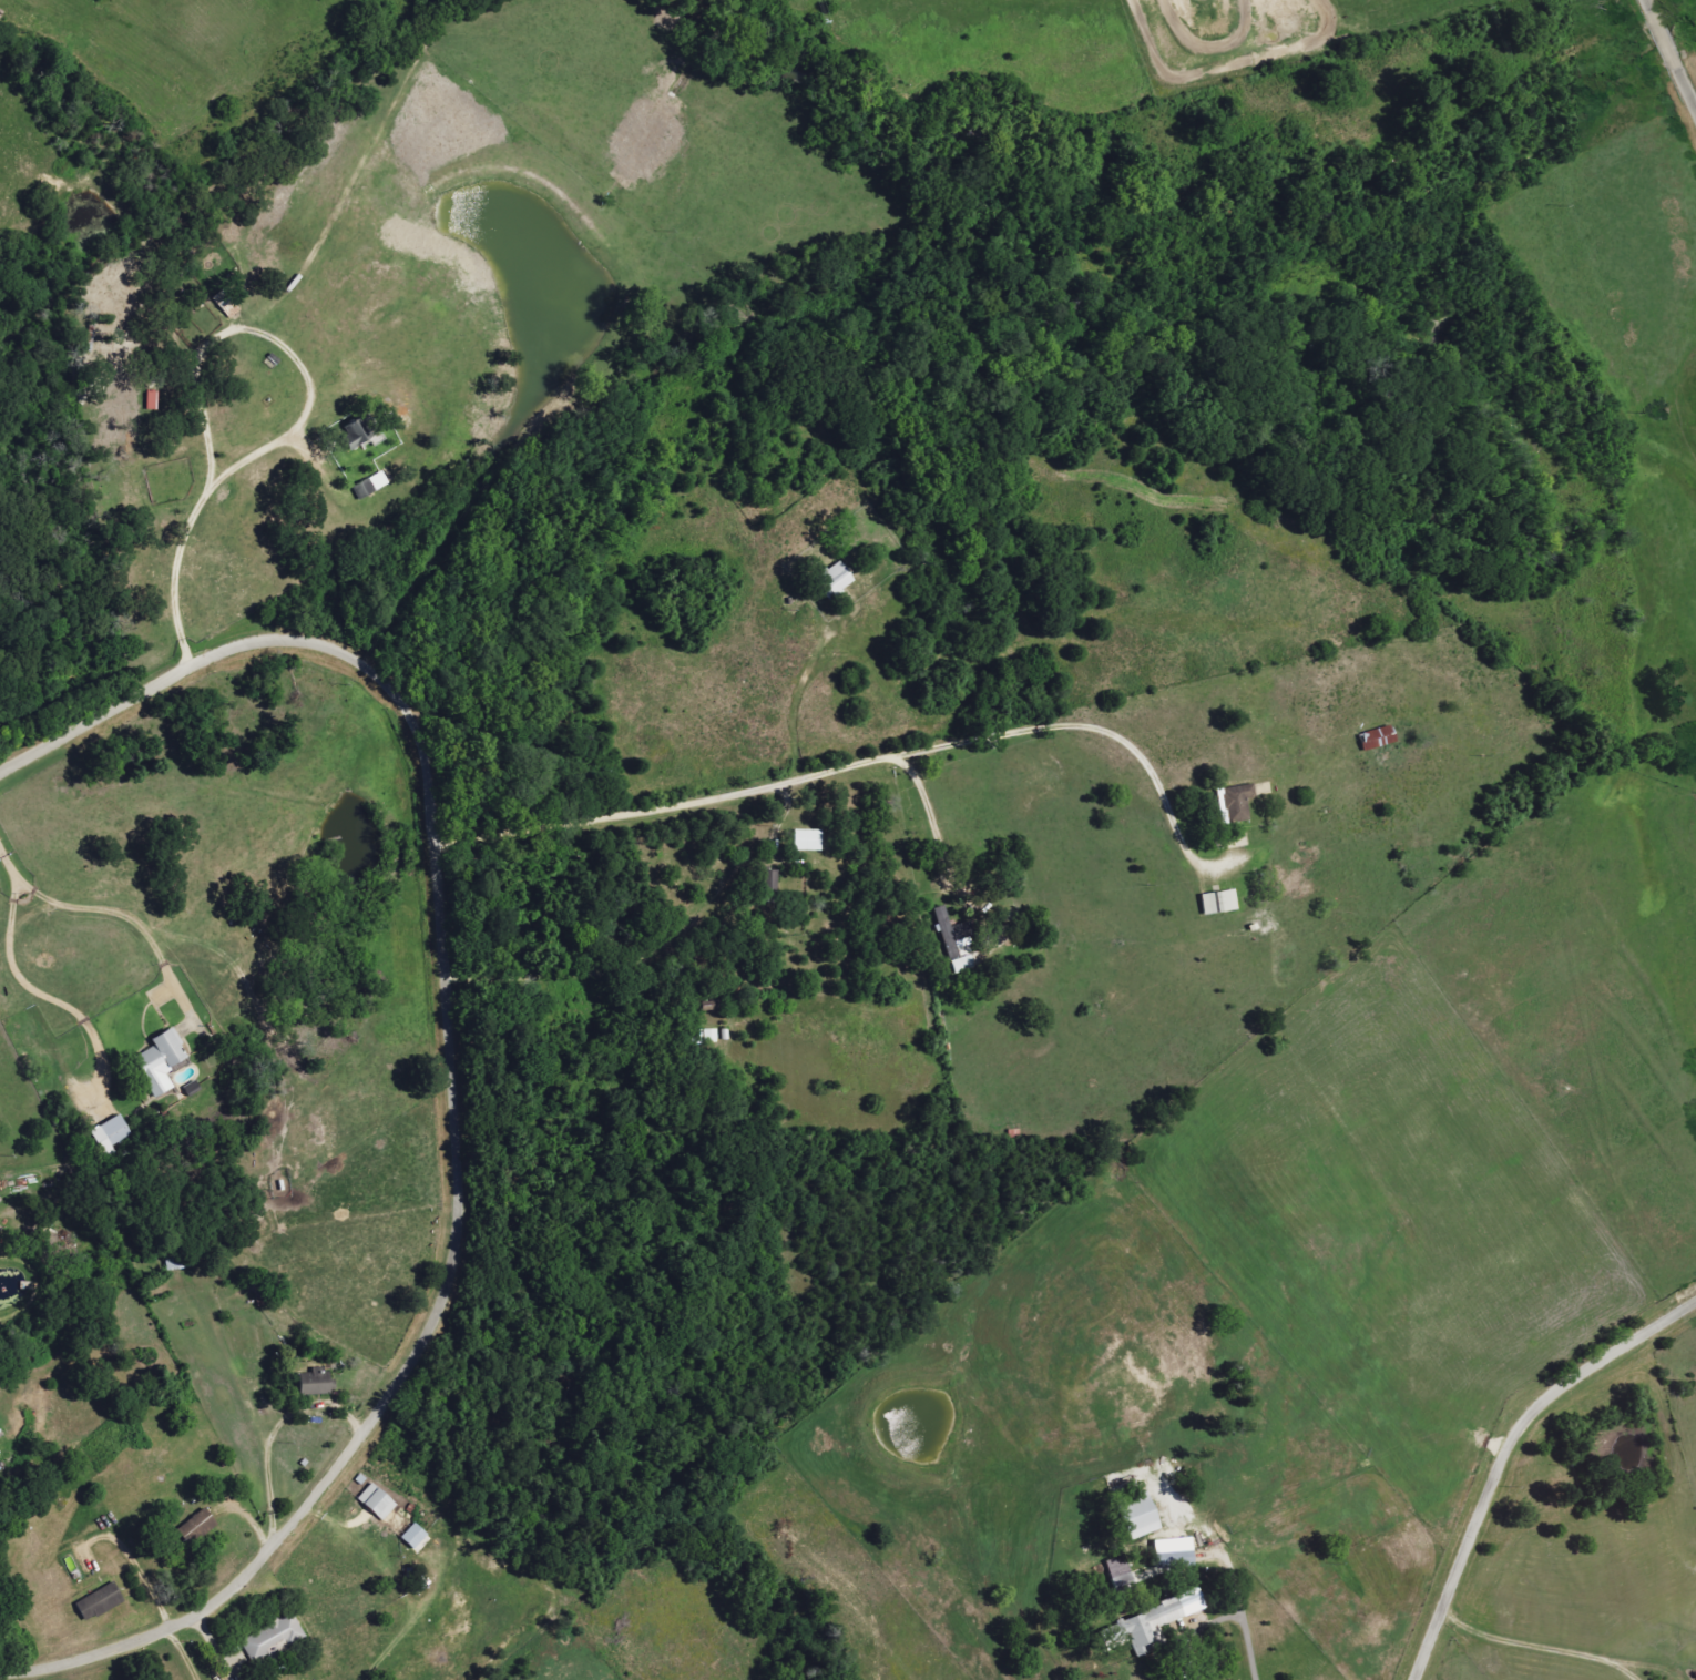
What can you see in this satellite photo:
road: (1672, 52)
road: (307, 371)
building: (374, 486)
road: (180, 579)
building: (839, 579)
road: (814, 681)
building: (1380, 739)
road: (852, 767)
building: (1240, 804)
road: (934, 834)
building: (804, 841)
building: (767, 880)
building: (1215, 902)
road: (100, 912)
road: (641, 961)
road: (30, 982)
building: (163, 1062)
road: (454, 1075)
building: (113, 1134)
building: (318, 1383)
road: (254, 1411)
road: (1510, 1453)
building: (374, 1504)
building: (1131, 1516)
building: (200, 1528)
building: (410, 1537)
building: (1167, 1554)
building: (102, 1602)
building: (275, 1640)
road: (1531, 1645)
road: (1175, 1657)
road: (1645, 1666)

